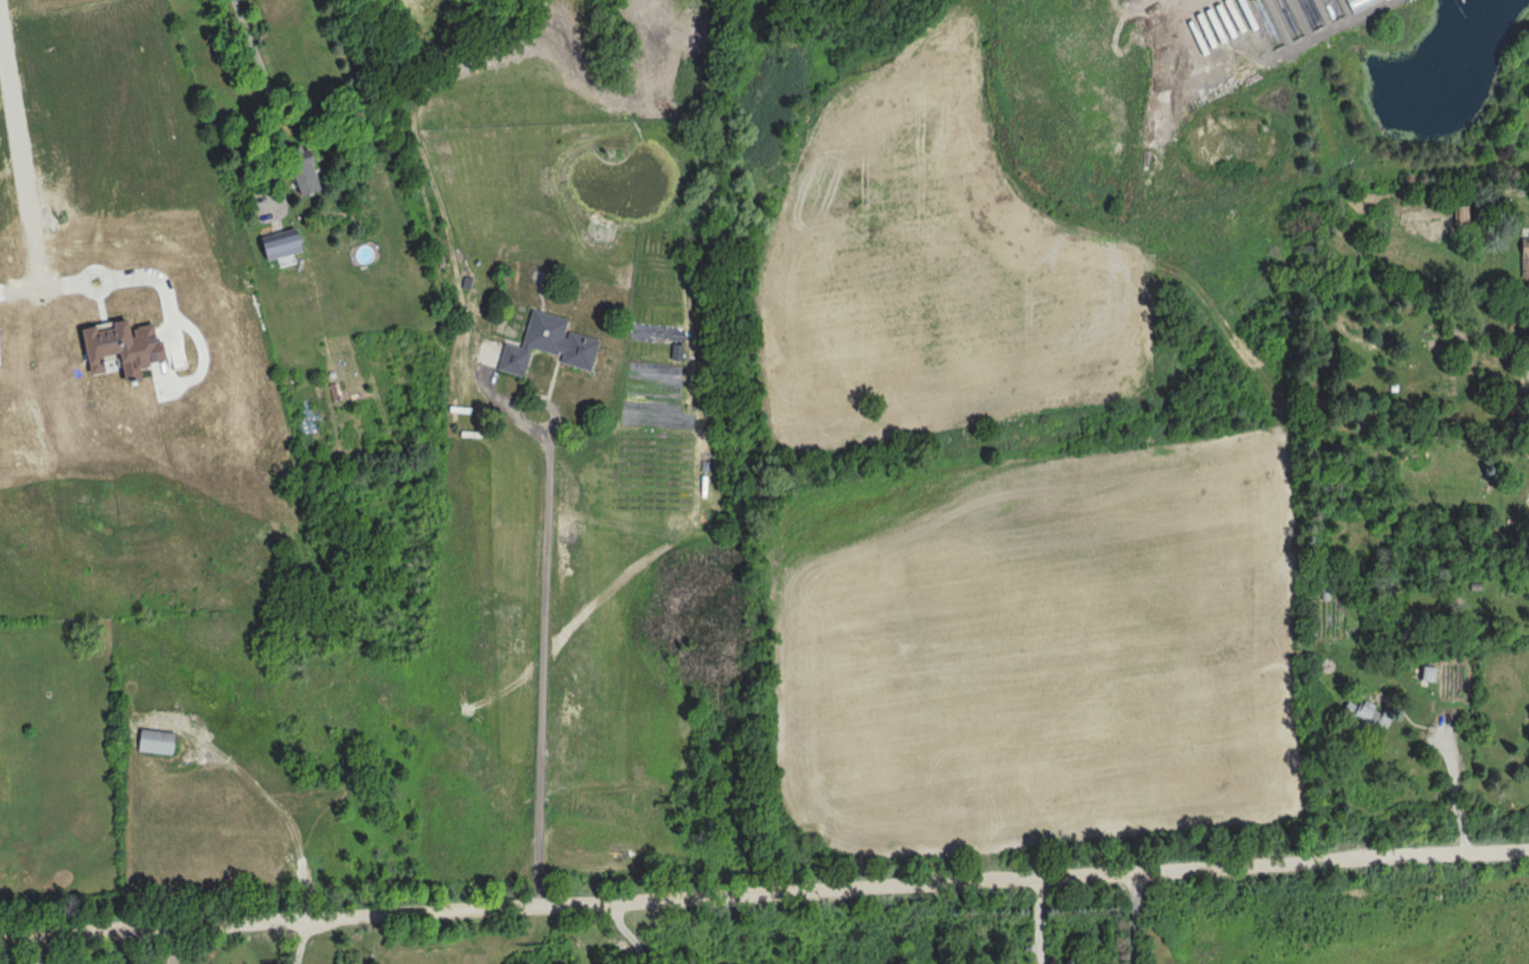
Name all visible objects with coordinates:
building: (1357, 3)
road: (265, 81)
road: (21, 156)
building: (298, 171)
building: (1462, 218)
building: (278, 247)
building: (1524, 262)
road: (137, 272)
building: (7, 290)
road: (20, 291)
building: (546, 345)
road: (548, 656)
building: (1427, 676)
building: (1364, 717)
building: (159, 742)
road: (1457, 794)
road: (764, 893)
road: (1137, 918)
road: (1039, 921)
road: (627, 933)
road: (302, 941)
road: (172, 944)
road: (41, 948)

